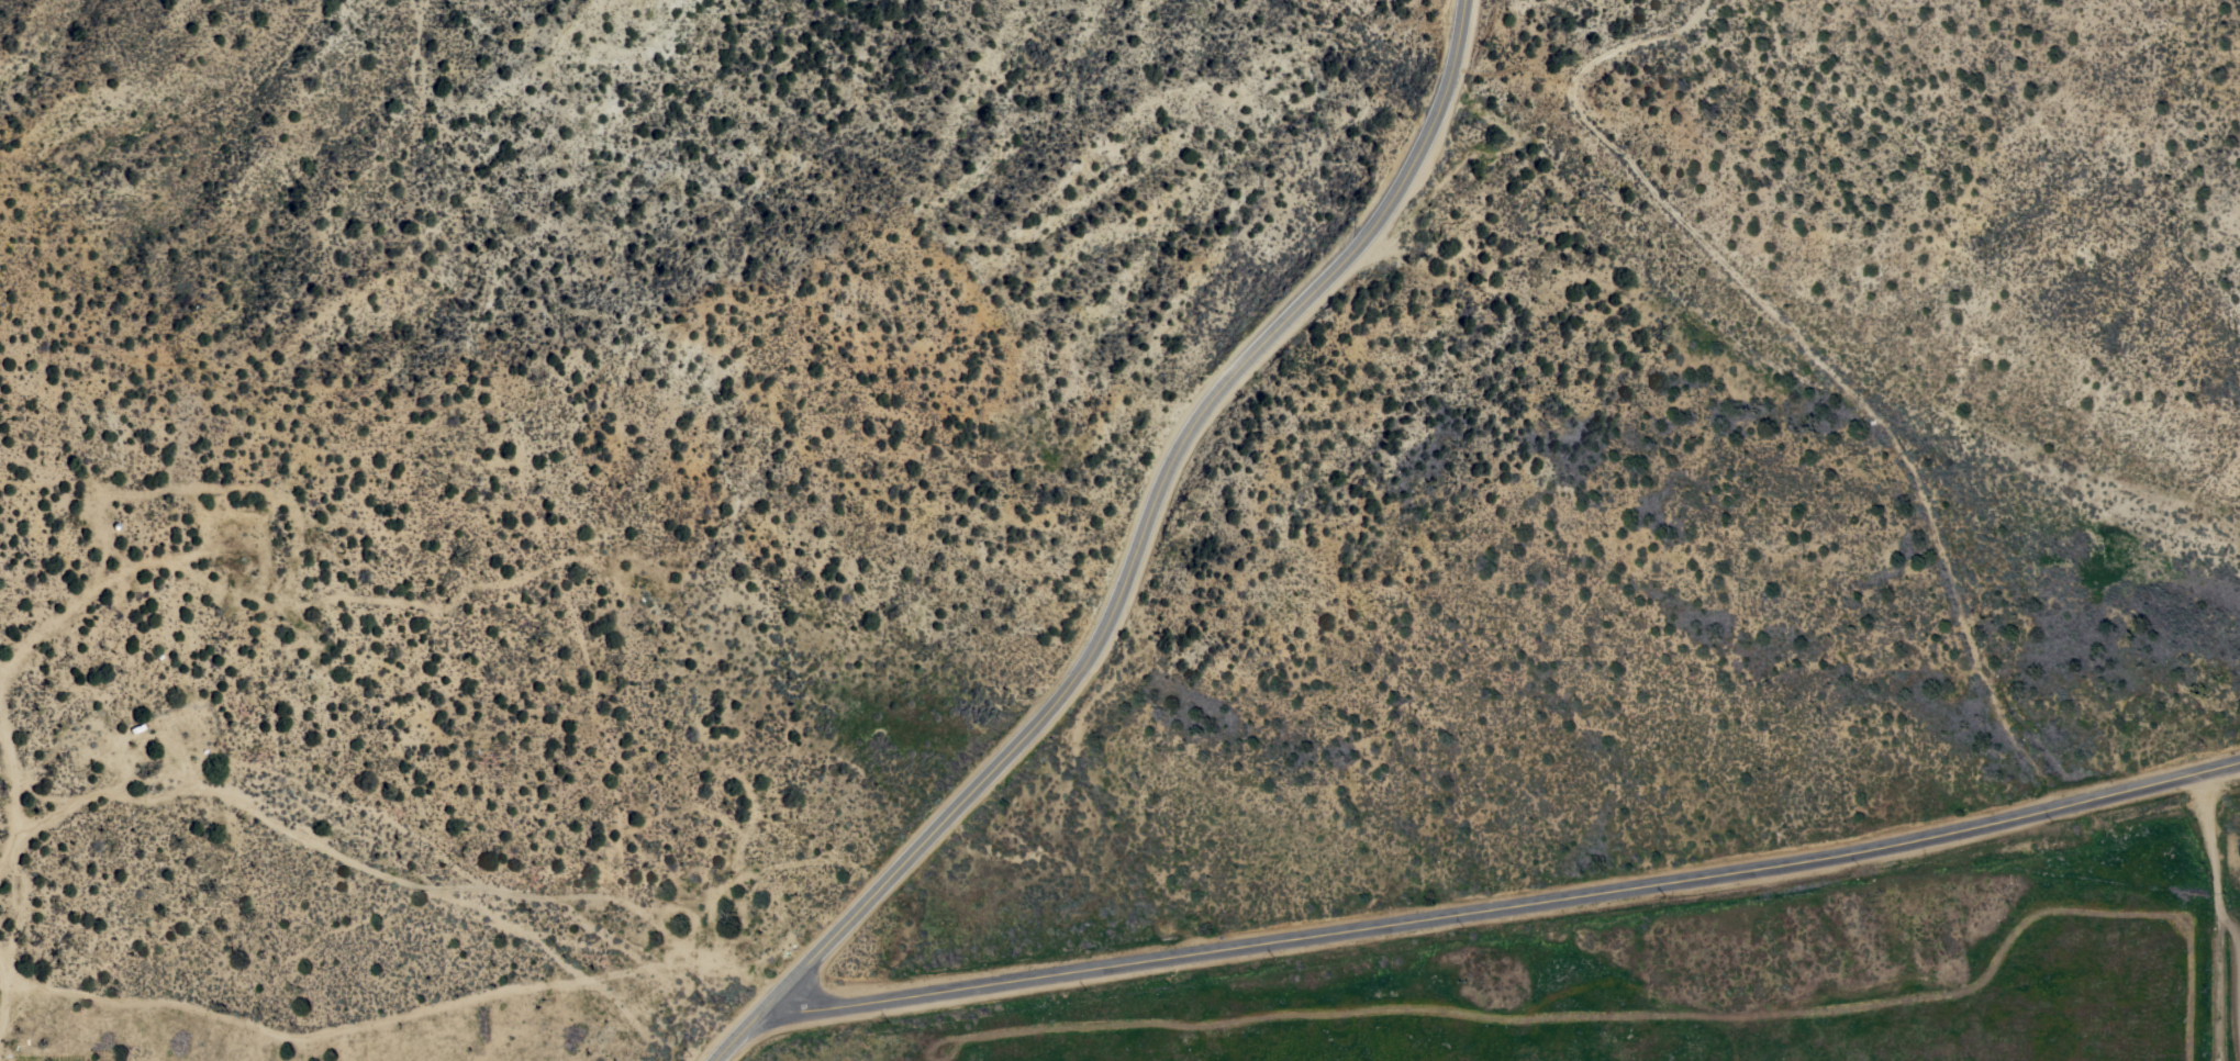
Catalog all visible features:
road: (454, 524)
road: (1145, 561)
road: (25, 657)
road: (2211, 841)
road: (387, 878)
building: (15, 890)
road: (1518, 901)
road: (2236, 937)
road: (2218, 985)
road: (2, 997)

